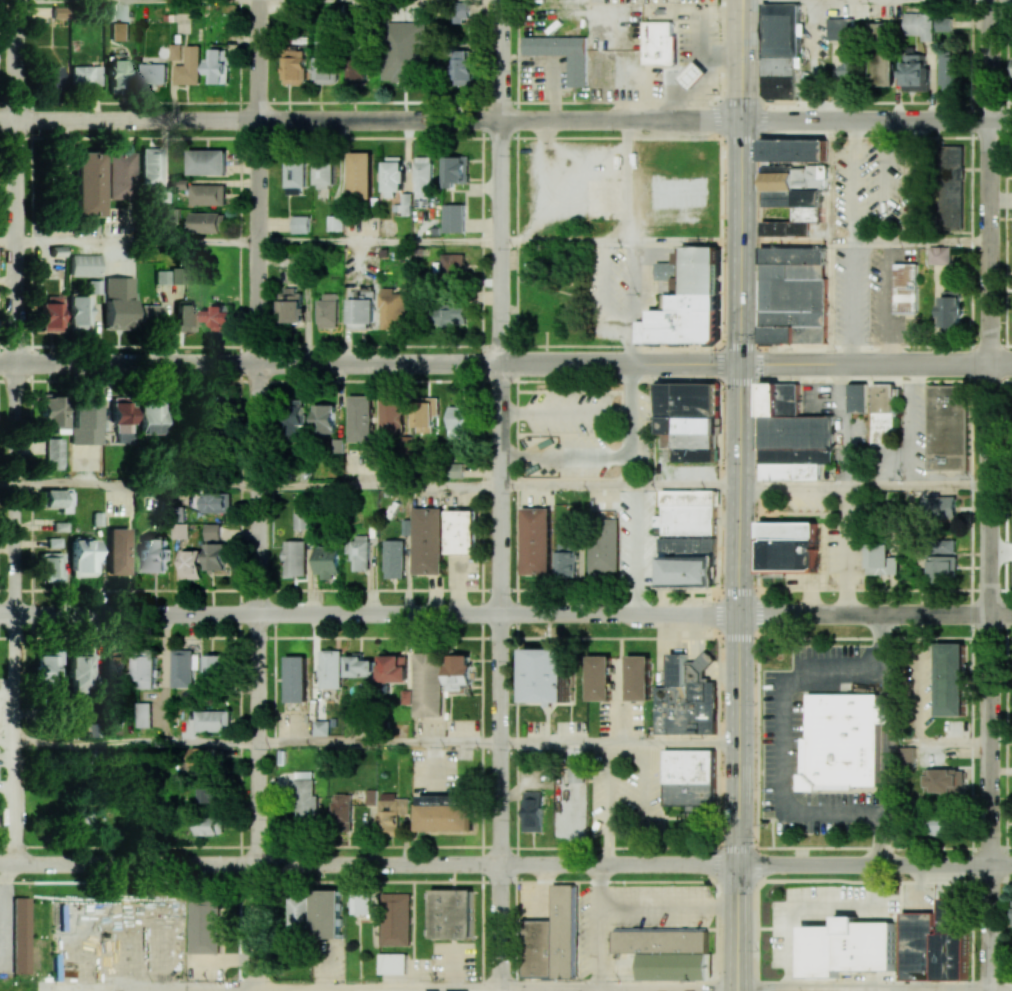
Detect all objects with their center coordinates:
road: (740, 0)
road: (741, 0)
road: (793, 0)
building: (459, 11)
building: (59, 12)
building: (943, 24)
building: (919, 25)
building: (840, 29)
building: (880, 31)
building: (658, 44)
building: (175, 51)
building: (779, 51)
building: (403, 52)
building: (562, 55)
road: (498, 59)
road: (989, 59)
road: (740, 60)
building: (848, 64)
building: (218, 66)
building: (293, 66)
building: (189, 67)
building: (325, 67)
building: (462, 67)
building: (356, 69)
building: (881, 69)
building: (949, 71)
building: (913, 72)
building: (116, 73)
building: (154, 73)
building: (51, 75)
building: (85, 75)
building: (694, 76)
road: (506, 101)
road: (249, 118)
road: (619, 119)
road: (876, 120)
road: (968, 135)
road: (446, 138)
building: (207, 162)
building: (150, 166)
building: (456, 170)
building: (326, 174)
building: (118, 175)
building: (361, 175)
building: (295, 178)
building: (394, 178)
building: (423, 180)
road: (69, 181)
building: (85, 183)
building: (951, 187)
building: (792, 188)
road: (721, 189)
building: (678, 192)
building: (207, 194)
building: (406, 204)
building: (454, 218)
building: (208, 222)
building: (335, 223)
building: (300, 224)
road: (498, 240)
road: (739, 241)
road: (864, 241)
road: (8, 242)
road: (377, 242)
road: (563, 242)
road: (136, 243)
building: (940, 255)
building: (84, 264)
building: (451, 264)
building: (177, 275)
building: (161, 276)
building: (906, 289)
building: (792, 295)
road: (889, 301)
building: (118, 302)
road: (853, 302)
building: (291, 305)
building: (686, 306)
building: (392, 307)
building: (950, 308)
building: (362, 309)
building: (328, 310)
building: (79, 312)
building: (50, 313)
building: (150, 313)
building: (450, 314)
building: (184, 317)
building: (218, 318)
road: (738, 346)
road: (248, 361)
road: (618, 363)
road: (875, 363)
traffic signals: (739, 364)
road: (630, 367)
road: (865, 380)
building: (857, 398)
road: (719, 401)
building: (216, 409)
building: (53, 412)
building: (424, 414)
building: (391, 415)
building: (882, 416)
building: (151, 417)
building: (324, 418)
building: (360, 418)
building: (295, 419)
building: (687, 420)
building: (122, 421)
building: (460, 421)
building: (84, 423)
road: (842, 424)
road: (1003, 425)
building: (945, 427)
building: (790, 428)
road: (17, 432)
building: (54, 453)
building: (455, 470)
building: (789, 472)
road: (8, 484)
road: (136, 484)
road: (376, 484)
road: (618, 485)
road: (864, 486)
road: (256, 493)
building: (56, 499)
building: (216, 503)
building: (687, 514)
building: (934, 514)
building: (302, 520)
building: (179, 531)
building: (211, 531)
building: (462, 532)
building: (429, 541)
building: (535, 542)
building: (602, 546)
building: (938, 546)
building: (686, 547)
building: (787, 548)
road: (844, 549)
building: (117, 550)
building: (359, 552)
road: (1001, 553)
building: (154, 555)
road: (990, 555)
building: (215, 556)
building: (82, 557)
building: (295, 558)
building: (395, 559)
building: (566, 560)
building: (881, 561)
building: (327, 562)
building: (191, 564)
road: (964, 565)
building: (49, 567)
building: (941, 568)
building: (687, 573)
road: (882, 585)
road: (378, 590)
road: (863, 590)
road: (891, 595)
road: (369, 612)
road: (739, 614)
road: (875, 614)
road: (480, 618)
road: (919, 633)
road: (547, 634)
road: (506, 638)
building: (115, 662)
building: (146, 668)
building: (183, 668)
building: (215, 668)
building: (358, 668)
building: (45, 670)
building: (78, 670)
building: (329, 670)
building: (392, 670)
road: (620, 670)
road: (498, 674)
building: (458, 676)
building: (546, 677)
building: (296, 678)
building: (600, 680)
building: (639, 680)
building: (950, 681)
road: (571, 682)
building: (426, 684)
road: (918, 692)
building: (686, 699)
road: (514, 704)
building: (144, 714)
building: (213, 721)
road: (547, 725)
building: (322, 726)
road: (780, 740)
road: (8, 741)
road: (136, 741)
road: (377, 742)
road: (617, 742)
building: (841, 743)
road: (950, 744)
building: (909, 756)
building: (206, 757)
building: (575, 775)
building: (688, 776)
building: (946, 780)
building: (209, 793)
building: (371, 796)
building: (305, 800)
road: (661, 806)
building: (341, 810)
building: (392, 811)
building: (531, 812)
building: (443, 816)
building: (82, 821)
building: (209, 825)
road: (663, 833)
road: (771, 833)
road: (531, 840)
road: (378, 846)
road: (514, 860)
road: (368, 863)
road: (874, 864)
traffic signals: (738, 865)
road: (756, 867)
road: (990, 877)
road: (865, 879)
road: (504, 881)
road: (16, 885)
building: (360, 903)
building: (296, 913)
building: (326, 913)
building: (451, 914)
road: (3, 916)
building: (395, 919)
building: (204, 925)
road: (664, 927)
road: (733, 927)
road: (741, 927)
road: (577, 929)
road: (1004, 930)
building: (19, 934)
building: (551, 937)
building: (934, 942)
building: (847, 950)
building: (665, 952)
building: (392, 963)
road: (158, 986)
road: (376, 986)
road: (859, 987)
road: (60, 988)
road: (103, 988)
road: (502, 988)
road: (613, 988)
road: (1000, 989)

